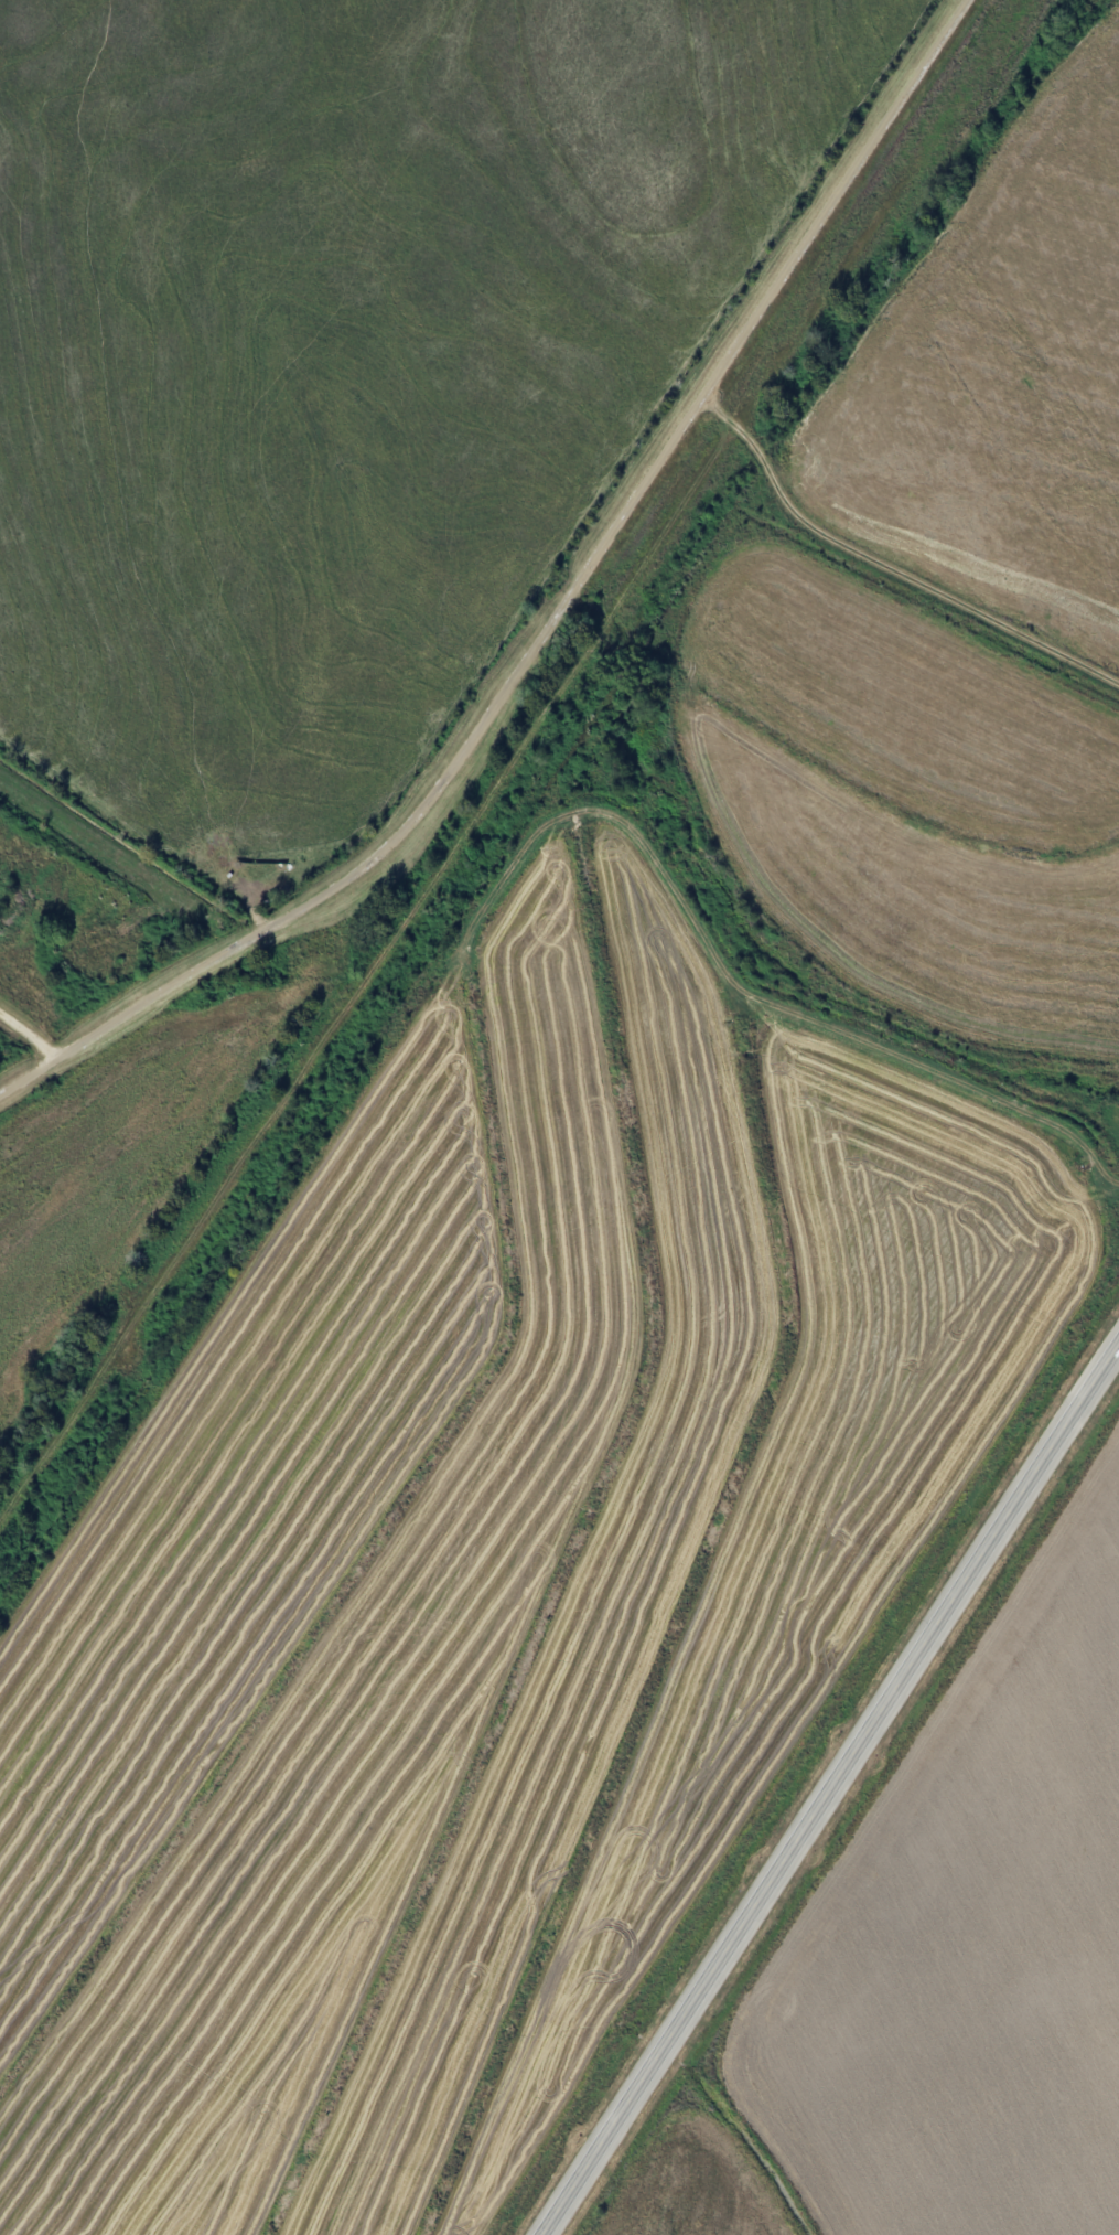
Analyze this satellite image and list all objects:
road: (768, 295)
road: (329, 887)
road: (30, 1033)
road: (1056, 1439)
road: (765, 1883)

